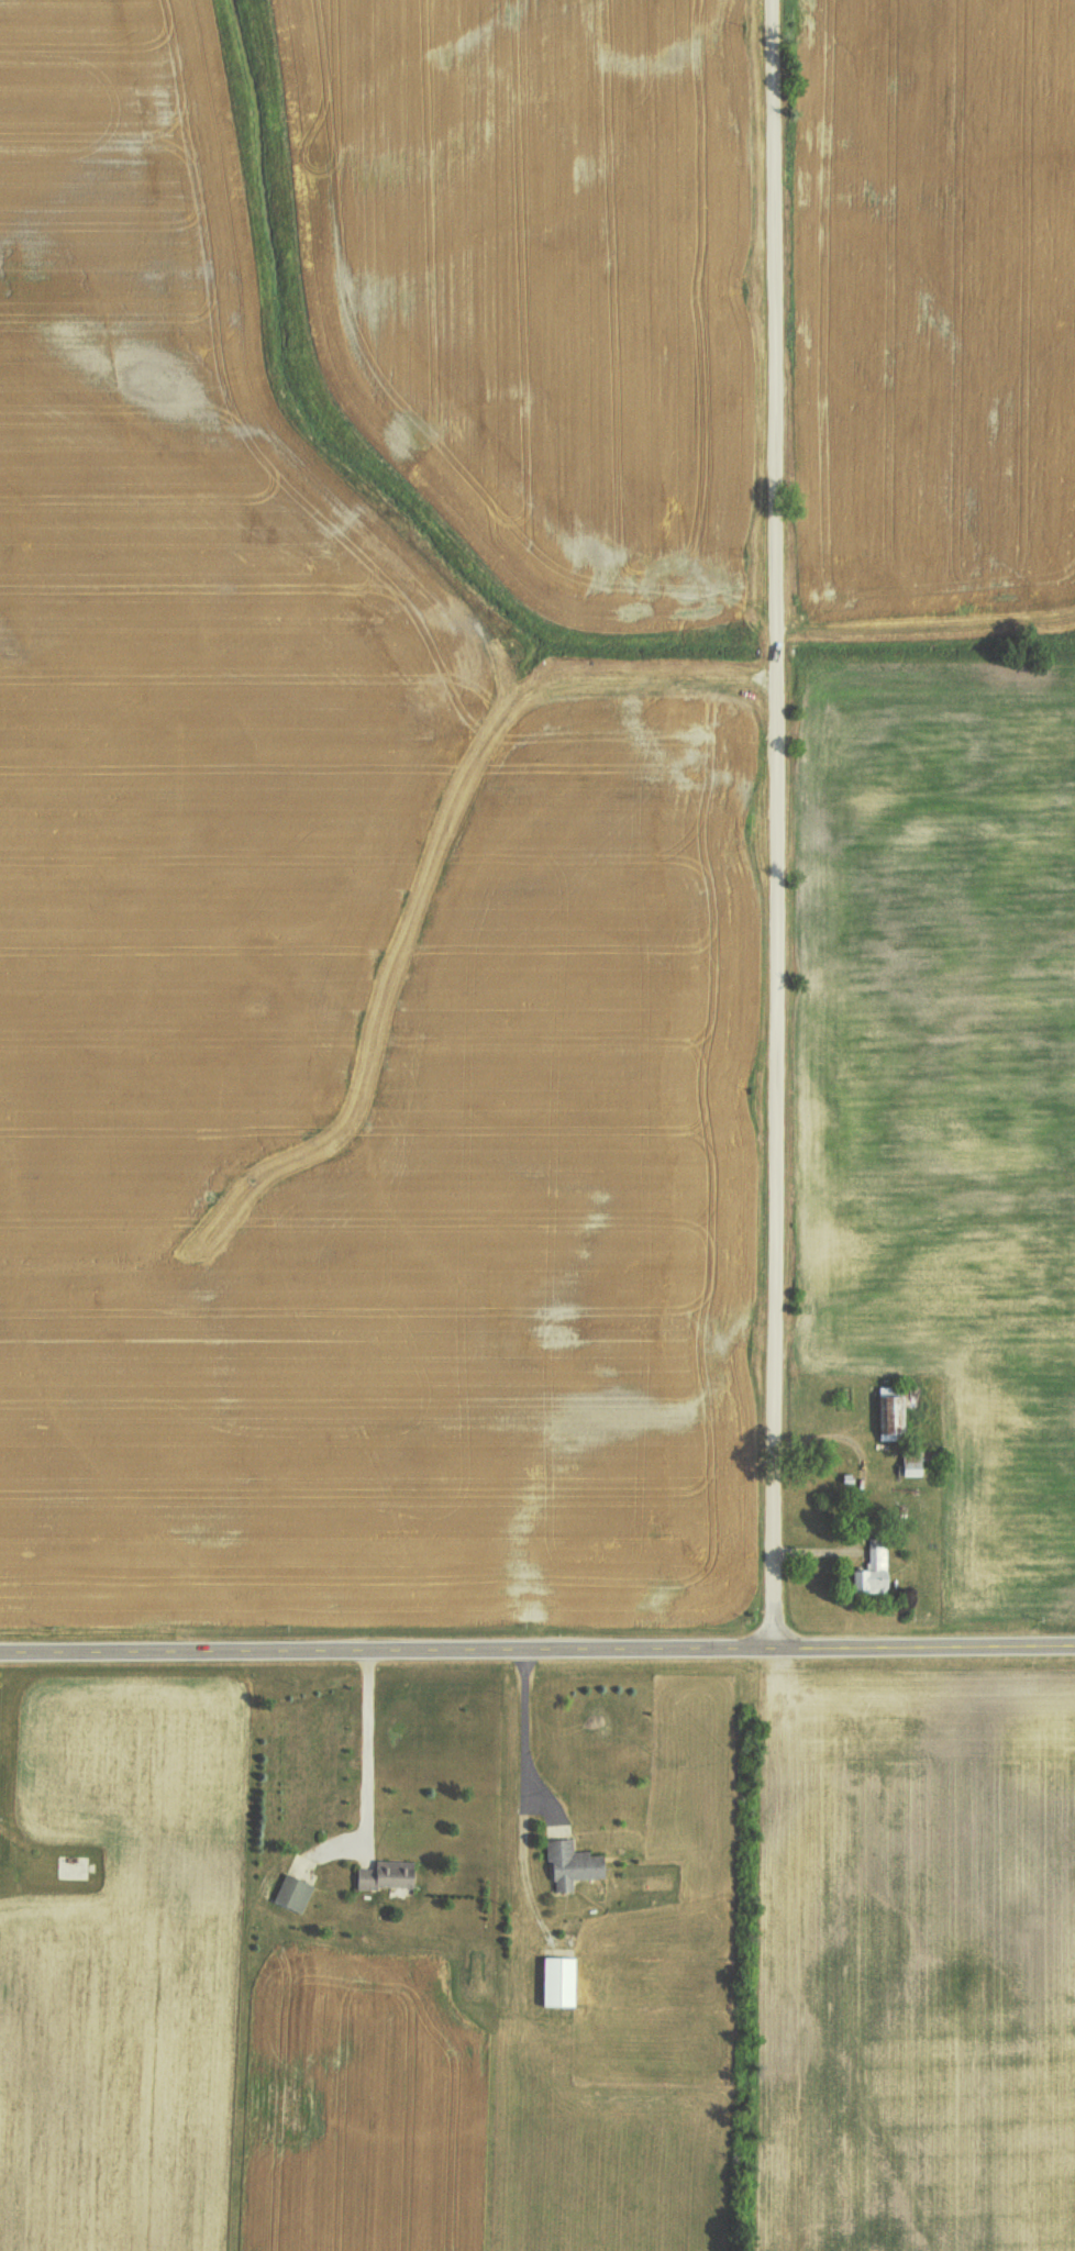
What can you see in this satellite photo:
road: (776, 786)
building: (894, 1409)
building: (872, 1572)
road: (772, 1612)
road: (537, 1652)
building: (572, 1864)
building: (385, 1876)
building: (292, 1893)
building: (558, 1981)

